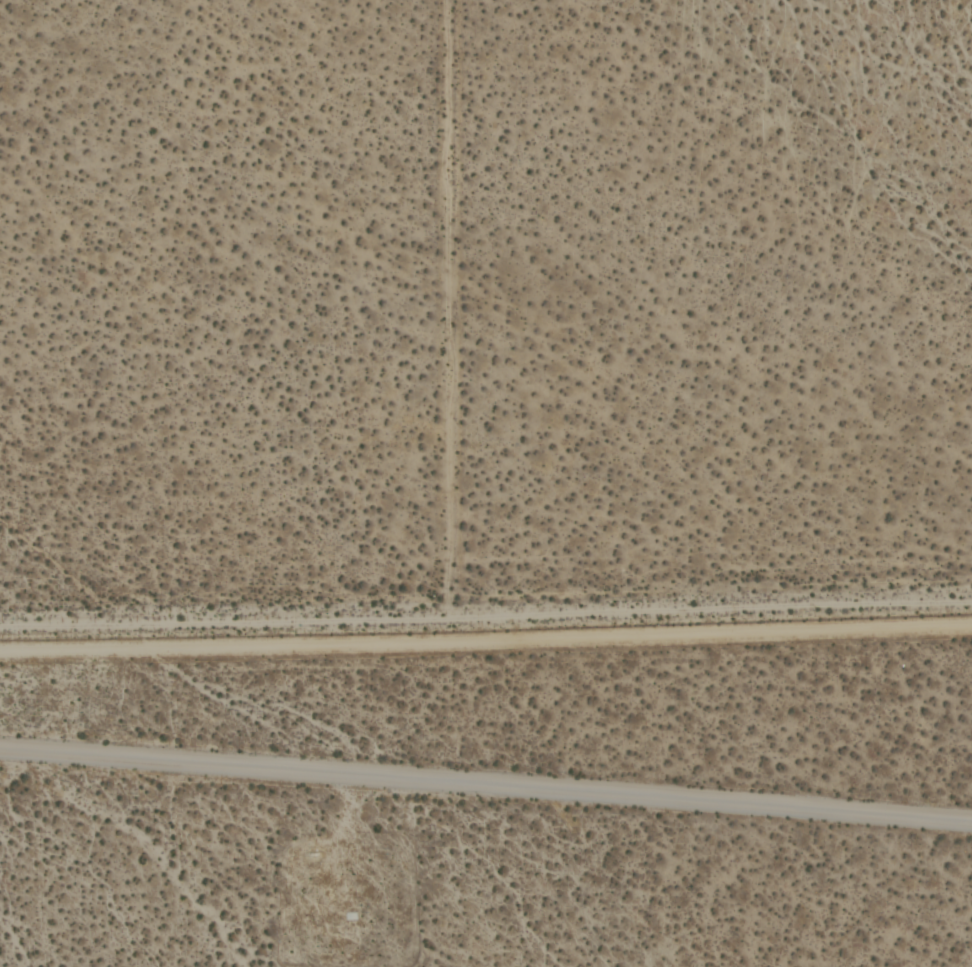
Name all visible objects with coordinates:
road: (448, 309)
road: (485, 618)
road: (486, 784)
airport: (491, 798)

